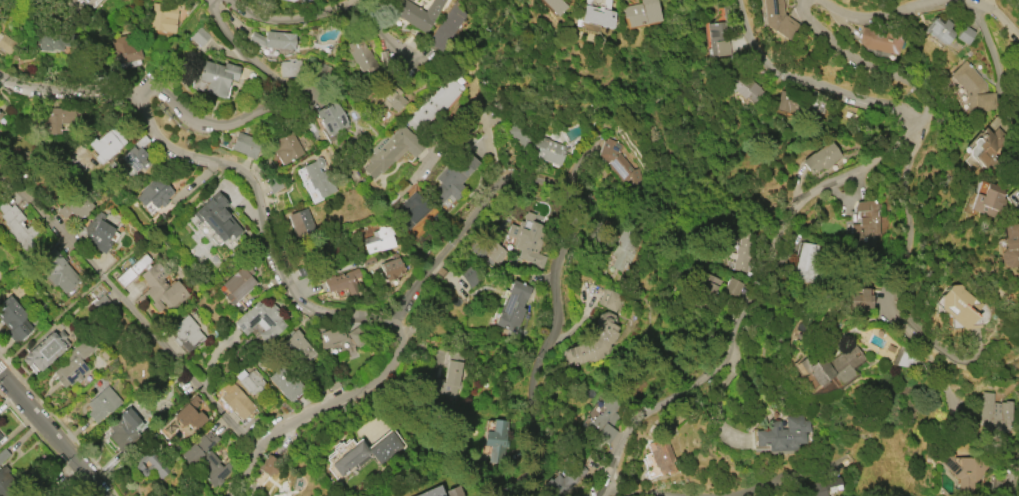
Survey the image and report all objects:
building: (411, 0)
building: (0, 1)
building: (290, 1)
building: (87, 2)
building: (555, 5)
road: (330, 10)
road: (881, 12)
building: (417, 13)
building: (641, 13)
building: (596, 14)
building: (164, 17)
building: (775, 18)
road: (994, 22)
building: (446, 25)
building: (940, 31)
building: (963, 34)
building: (199, 36)
building: (274, 40)
building: (879, 40)
road: (988, 40)
building: (716, 41)
building: (10, 43)
building: (49, 44)
building: (122, 50)
building: (360, 54)
building: (752, 65)
road: (877, 68)
building: (289, 69)
building: (214, 77)
road: (817, 84)
building: (973, 86)
building: (737, 87)
road: (131, 97)
building: (391, 97)
building: (440, 98)
building: (783, 101)
building: (816, 104)
building: (801, 105)
building: (0, 112)
road: (263, 112)
building: (57, 119)
building: (331, 119)
building: (535, 142)
building: (104, 144)
building: (245, 145)
building: (990, 145)
building: (287, 148)
building: (391, 150)
building: (138, 154)
building: (820, 158)
building: (615, 160)
building: (454, 177)
building: (316, 179)
building: (274, 184)
building: (154, 192)
building: (984, 200)
building: (75, 206)
building: (411, 208)
building: (215, 219)
building: (300, 223)
building: (865, 223)
building: (16, 225)
road: (914, 227)
road: (574, 230)
building: (99, 233)
building: (378, 240)
building: (528, 243)
building: (1006, 247)
building: (621, 250)
building: (739, 250)
building: (495, 253)
building: (807, 262)
road: (117, 265)
building: (391, 267)
building: (59, 270)
building: (133, 270)
building: (470, 276)
road: (286, 277)
building: (342, 282)
building: (161, 286)
building: (732, 287)
building: (238, 288)
building: (706, 290)
building: (610, 299)
building: (860, 299)
building: (102, 305)
building: (956, 305)
building: (512, 306)
road: (749, 307)
road: (132, 308)
building: (14, 320)
building: (260, 320)
building: (185, 334)
building: (329, 334)
building: (594, 340)
building: (295, 345)
building: (46, 350)
building: (74, 363)
building: (831, 365)
road: (932, 367)
building: (449, 380)
building: (250, 381)
building: (285, 382)
building: (470, 398)
building: (235, 401)
building: (102, 404)
road: (323, 410)
building: (992, 413)
building: (182, 418)
building: (604, 420)
building: (124, 430)
building: (781, 433)
road: (46, 435)
building: (0, 437)
building: (497, 440)
building: (363, 453)
building: (206, 459)
building: (660, 459)
road: (1016, 461)
building: (5, 464)
building: (148, 464)
building: (269, 468)
building: (961, 471)
road: (805, 478)
building: (564, 480)
road: (1011, 480)
building: (4, 486)
building: (822, 488)
building: (453, 491)
building: (31, 492)
building: (432, 492)
road: (626, 495)

